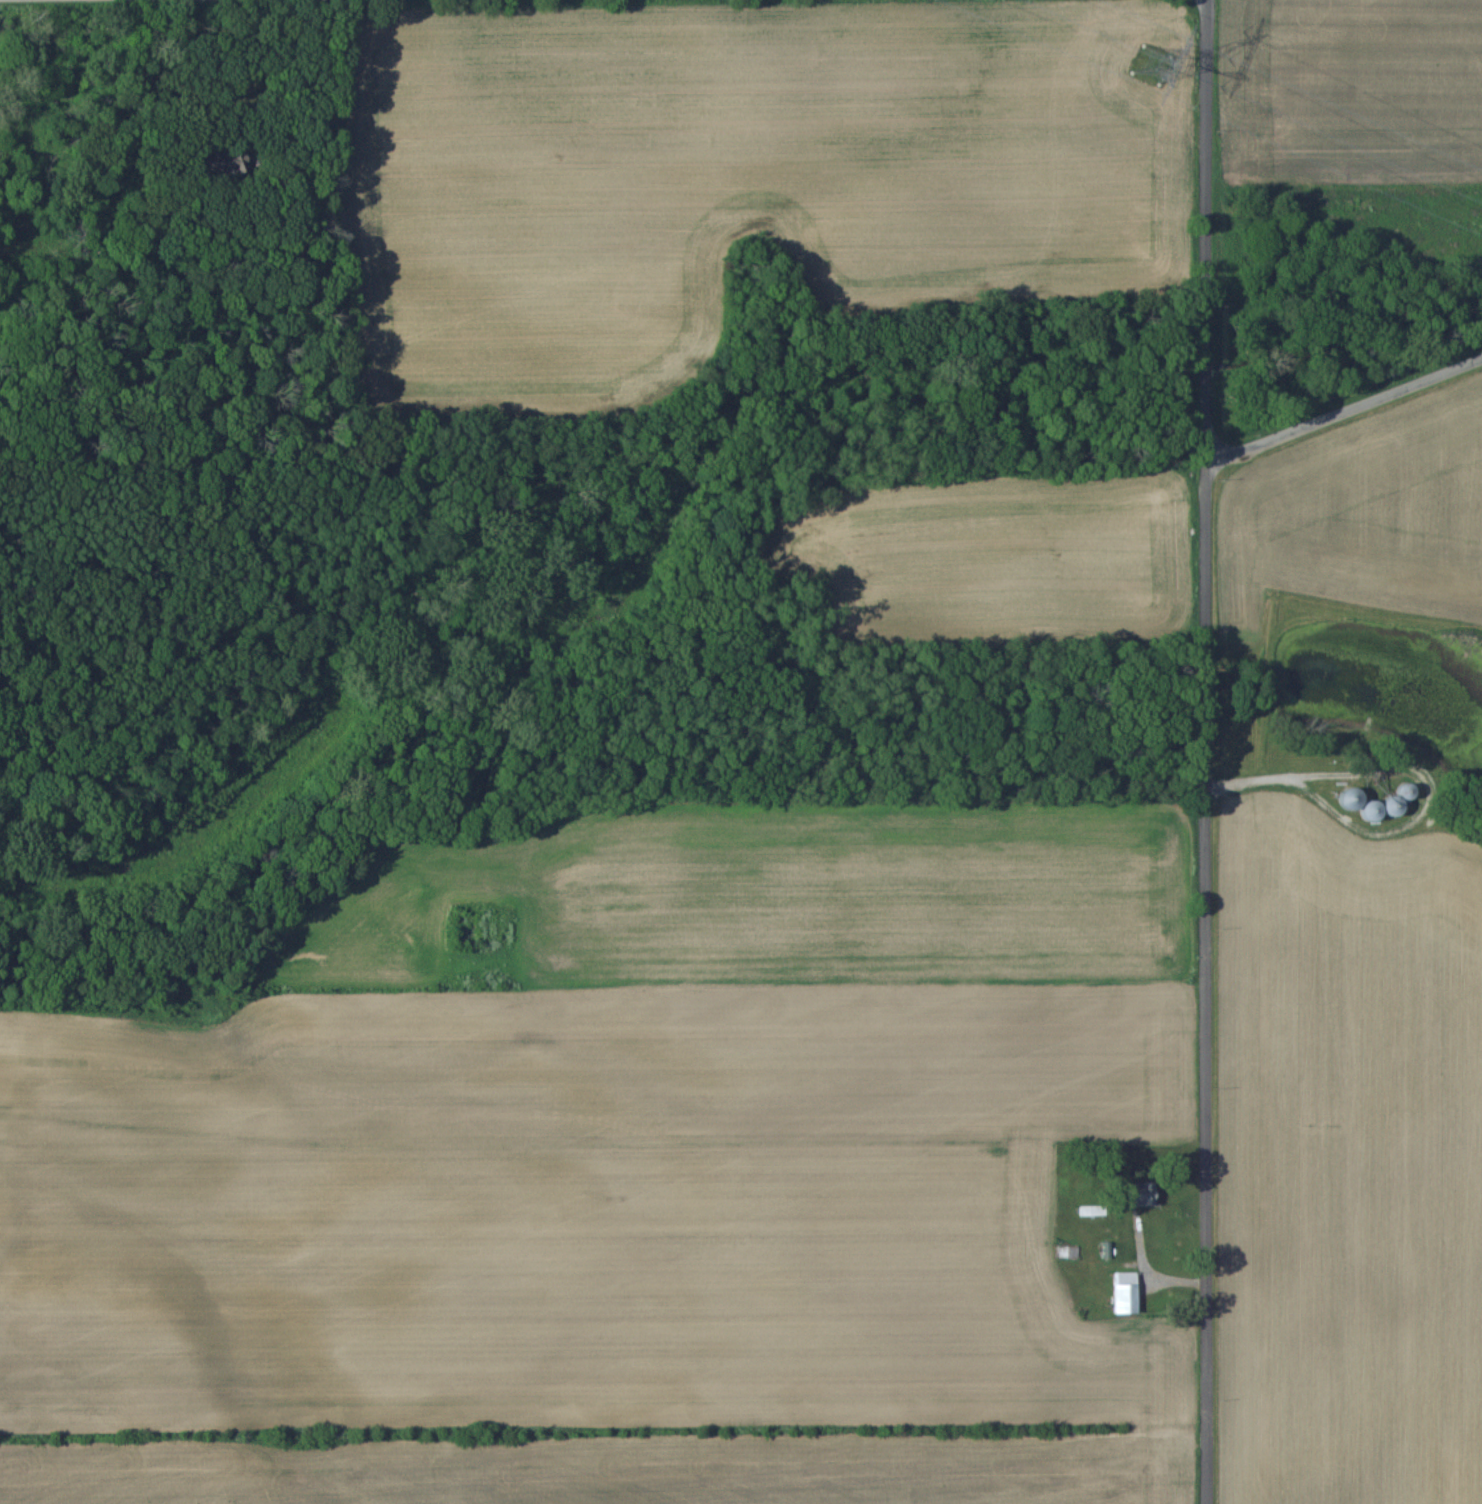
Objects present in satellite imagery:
power tower: (1151, 67)
road: (291, 88)
road: (1345, 404)
road: (1206, 751)
building: (1147, 1192)
building: (1127, 1291)

